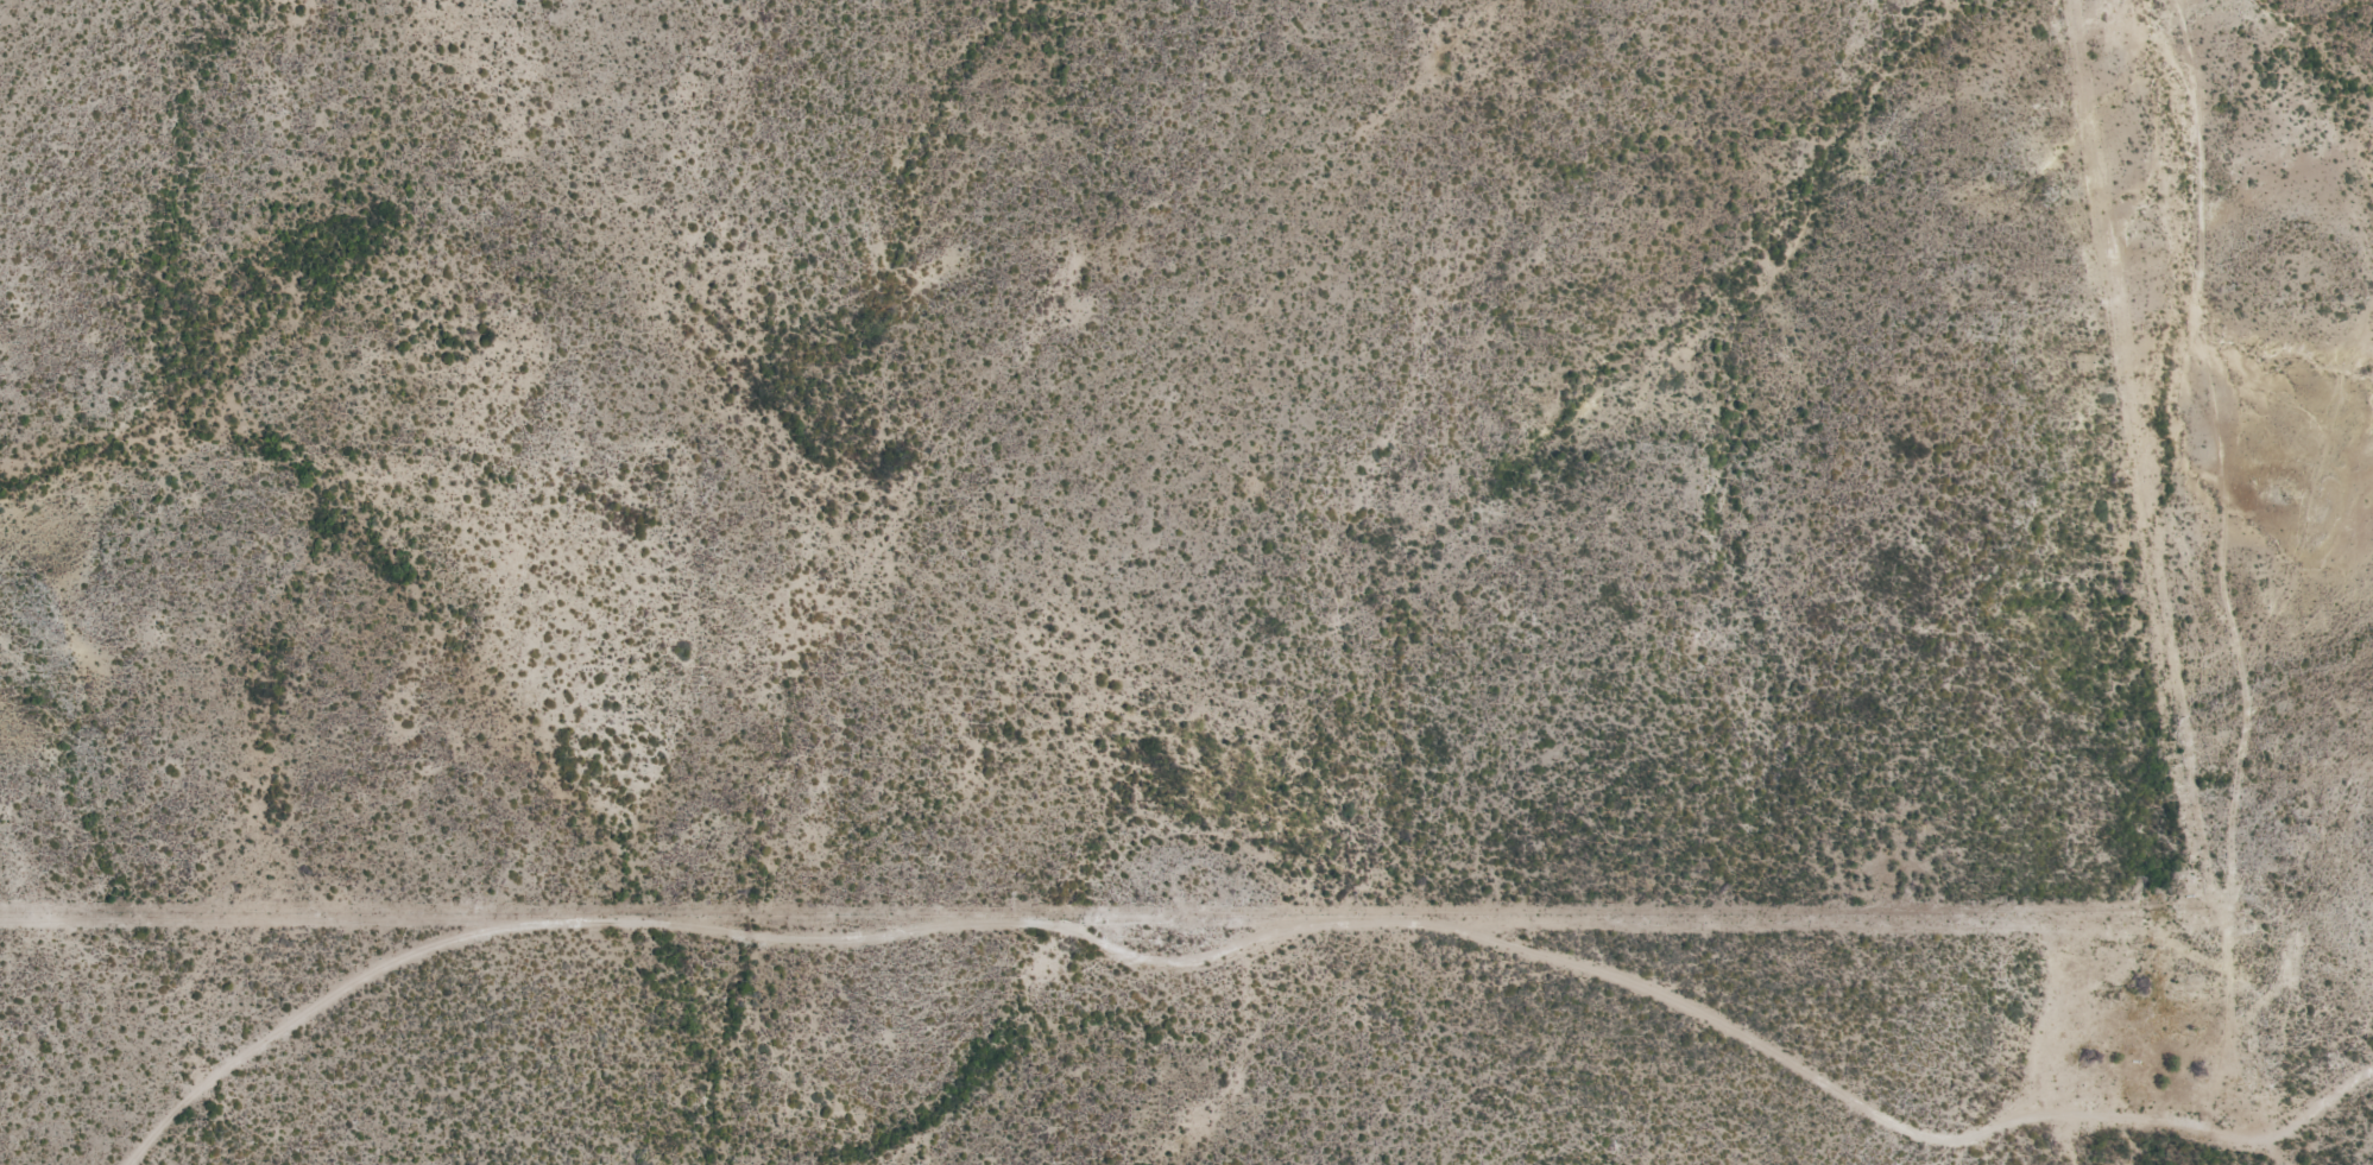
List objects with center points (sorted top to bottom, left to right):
road: (1242, 948)
road: (2273, 1152)

